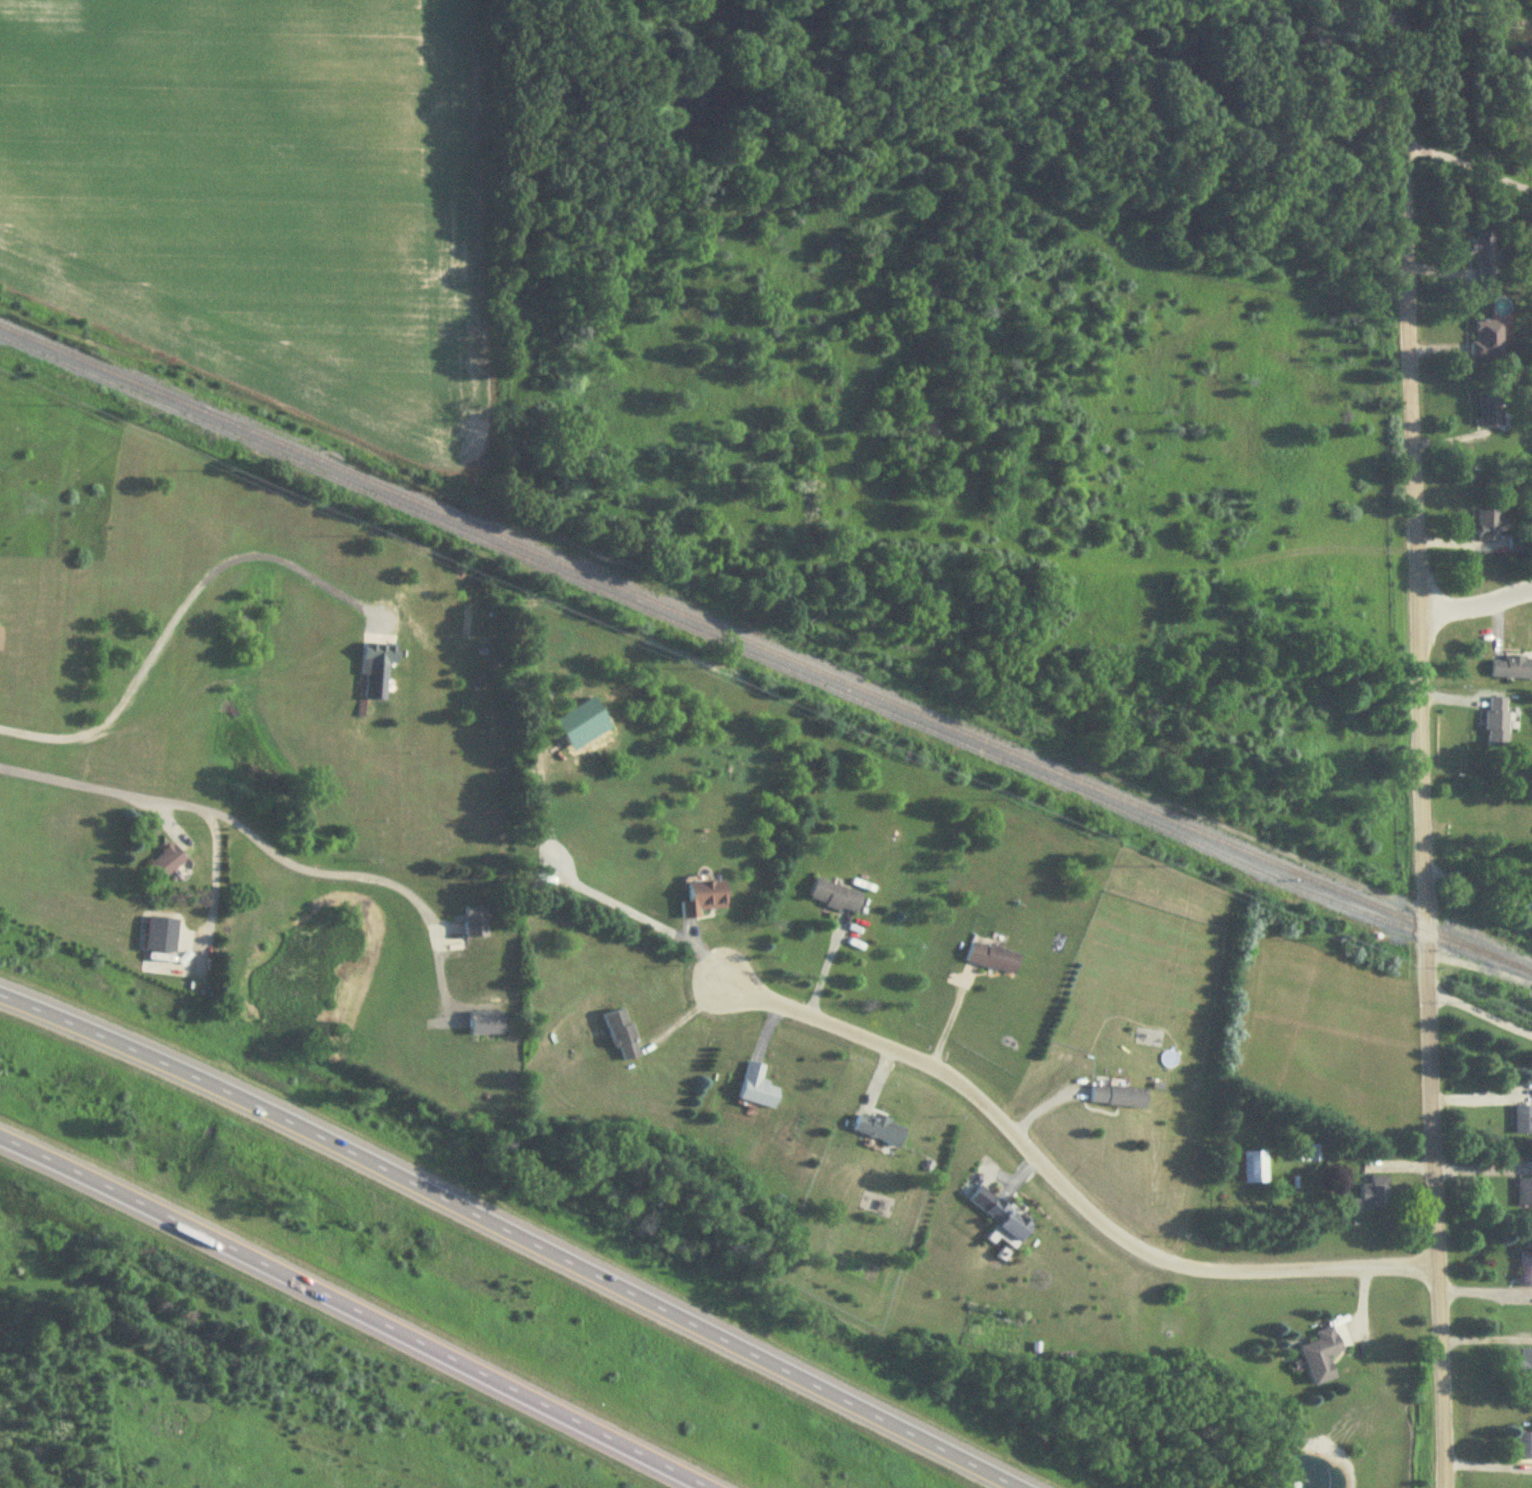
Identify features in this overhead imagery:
road: (1464, 158)
building: (1484, 257)
building: (1487, 340)
building: (1490, 413)
building: (1491, 525)
road: (1474, 606)
road: (178, 627)
building: (0, 639)
railway: (765, 650)
railway: (763, 663)
building: (1511, 665)
building: (377, 669)
building: (1496, 720)
road: (1417, 731)
road: (268, 844)
building: (167, 862)
road: (1475, 887)
building: (835, 897)
building: (704, 899)
building: (476, 922)
building: (993, 958)
building: (161, 964)
road: (1478, 1009)
building: (485, 1023)
building: (622, 1035)
building: (756, 1087)
road: (1479, 1095)
building: (1118, 1097)
building: (1522, 1118)
building: (879, 1129)
building: (1253, 1167)
road: (1060, 1181)
building: (1524, 1191)
building: (1372, 1196)
building: (1007, 1220)
road: (518, 1229)
building: (1525, 1268)
road: (1482, 1291)
road: (358, 1308)
building: (1320, 1356)
building: (1523, 1362)
building: (1523, 1446)
road: (1439, 1476)

